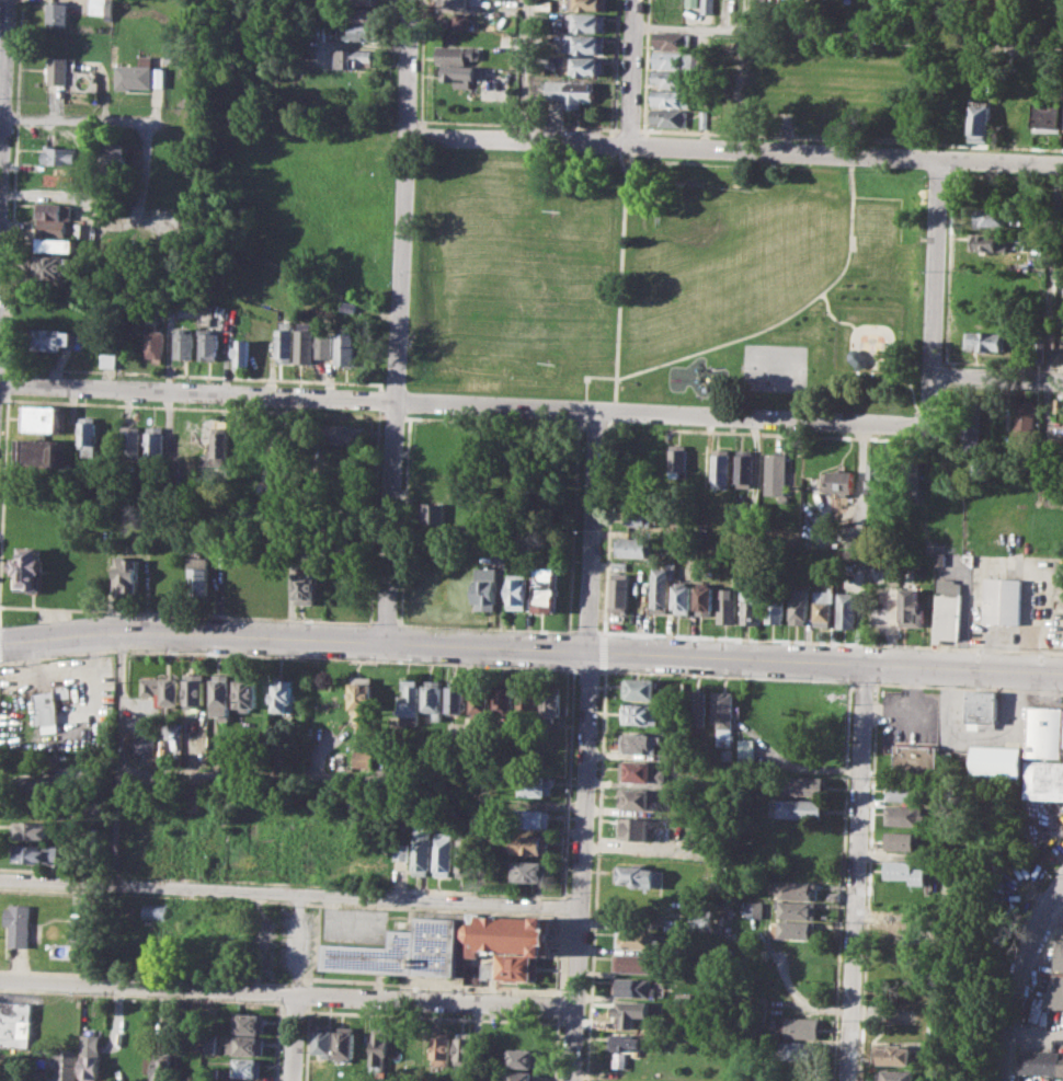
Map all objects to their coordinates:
building: (364, 1)
building: (691, 2)
building: (461, 3)
building: (587, 4)
building: (98, 7)
building: (708, 7)
building: (55, 13)
building: (365, 13)
building: (462, 20)
building: (587, 21)
building: (344, 30)
building: (363, 32)
road: (392, 33)
road: (847, 36)
building: (675, 39)
building: (587, 43)
road: (1, 46)
building: (459, 53)
road: (16, 56)
building: (353, 57)
building: (170, 58)
building: (674, 60)
road: (644, 64)
building: (590, 65)
road: (615, 67)
building: (57, 69)
road: (524, 70)
road: (631, 72)
building: (139, 73)
building: (465, 74)
building: (673, 79)
building: (569, 91)
building: (672, 97)
building: (1016, 115)
building: (1048, 116)
road: (15, 117)
building: (671, 117)
road: (459, 120)
building: (980, 120)
road: (77, 122)
road: (629, 129)
road: (642, 131)
road: (850, 138)
road: (616, 142)
road: (637, 143)
road: (733, 150)
building: (60, 154)
building: (114, 158)
road: (621, 163)
road: (402, 199)
building: (52, 216)
building: (991, 217)
park: (698, 221)
road: (849, 229)
building: (988, 242)
building: (57, 244)
road: (10, 246)
road: (619, 264)
building: (55, 265)
road: (947, 271)
road: (1051, 272)
park: (667, 280)
park: (549, 287)
road: (934, 292)
road: (815, 296)
building: (347, 306)
road: (833, 315)
road: (775, 323)
building: (50, 337)
building: (986, 340)
building: (282, 342)
building: (304, 342)
building: (151, 343)
building: (180, 343)
building: (205, 344)
building: (344, 344)
building: (323, 347)
building: (239, 354)
building: (1058, 355)
road: (675, 358)
building: (105, 359)
park: (775, 367)
road: (193, 375)
road: (588, 375)
road: (996, 376)
road: (4, 380)
road: (614, 388)
road: (910, 392)
road: (378, 399)
road: (460, 402)
road: (192, 406)
road: (581, 409)
road: (611, 411)
road: (393, 416)
building: (38, 417)
building: (1026, 419)
road: (496, 421)
road: (594, 425)
road: (764, 433)
building: (344, 434)
building: (85, 435)
building: (971, 435)
building: (151, 442)
building: (127, 447)
road: (2, 453)
building: (35, 453)
building: (676, 459)
building: (658, 463)
building: (697, 465)
building: (720, 468)
building: (744, 468)
building: (775, 472)
building: (877, 476)
building: (910, 476)
building: (836, 483)
building: (441, 487)
building: (433, 511)
road: (373, 515)
road: (404, 517)
building: (638, 519)
road: (390, 522)
road: (572, 525)
road: (607, 528)
building: (633, 545)
building: (853, 555)
building: (26, 567)
building: (125, 575)
building: (198, 576)
building: (618, 586)
building: (306, 587)
building: (488, 588)
building: (546, 588)
building: (659, 588)
building: (518, 590)
building: (638, 591)
building: (683, 599)
building: (705, 599)
building: (1003, 600)
building: (727, 605)
building: (798, 606)
building: (750, 607)
building: (774, 607)
building: (822, 607)
building: (911, 607)
building: (846, 609)
building: (946, 611)
road: (187, 613)
road: (386, 623)
road: (484, 628)
road: (585, 632)
road: (830, 641)
road: (530, 651)
road: (603, 652)
road: (287, 656)
road: (587, 670)
road: (724, 676)
road: (860, 681)
road: (873, 681)
building: (161, 689)
building: (193, 689)
building: (641, 689)
building: (244, 694)
building: (220, 695)
building: (282, 695)
building: (362, 698)
building: (433, 698)
building: (456, 699)
building: (504, 699)
building: (480, 700)
building: (528, 700)
building: (550, 702)
building: (409, 703)
building: (49, 705)
building: (982, 705)
building: (695, 708)
building: (641, 713)
building: (723, 715)
building: (1044, 732)
building: (141, 743)
building: (642, 743)
road: (586, 745)
building: (745, 748)
building: (1062, 749)
building: (914, 758)
building: (362, 759)
road: (118, 760)
building: (994, 761)
building: (641, 770)
road: (233, 775)
building: (1043, 779)
building: (37, 784)
building: (537, 784)
building: (802, 785)
road: (871, 787)
building: (901, 791)
building: (639, 798)
building: (798, 808)
building: (904, 815)
building: (534, 818)
building: (636, 827)
building: (32, 830)
building: (899, 840)
building: (530, 844)
building: (401, 848)
building: (36, 852)
building: (444, 853)
building: (422, 854)
building: (467, 854)
building: (528, 871)
building: (903, 871)
road: (855, 872)
road: (594, 874)
building: (639, 875)
road: (839, 881)
building: (795, 889)
road: (290, 898)
building: (754, 909)
building: (796, 909)
building: (155, 910)
building: (699, 915)
road: (1053, 916)
building: (19, 923)
building: (77, 929)
building: (795, 929)
building: (507, 933)
building: (636, 938)
building: (402, 950)
building: (635, 963)
building: (512, 967)
road: (1019, 977)
building: (1055, 980)
building: (635, 987)
road: (293, 989)
road: (288, 994)
building: (631, 1012)
building: (251, 1022)
building: (15, 1023)
building: (802, 1027)
road: (1035, 1031)
building: (324, 1039)
building: (209, 1042)
building: (627, 1042)
building: (345, 1043)
building: (245, 1045)
building: (465, 1045)
building: (380, 1046)
building: (442, 1047)
building: (799, 1051)
building: (895, 1054)
building: (523, 1057)
building: (619, 1059)
building: (1041, 1061)
building: (67, 1066)
building: (90, 1066)
building: (249, 1067)
building: (162, 1069)
building: (523, 1076)
building: (895, 1076)
building: (240, 1080)
building: (615, 1080)

